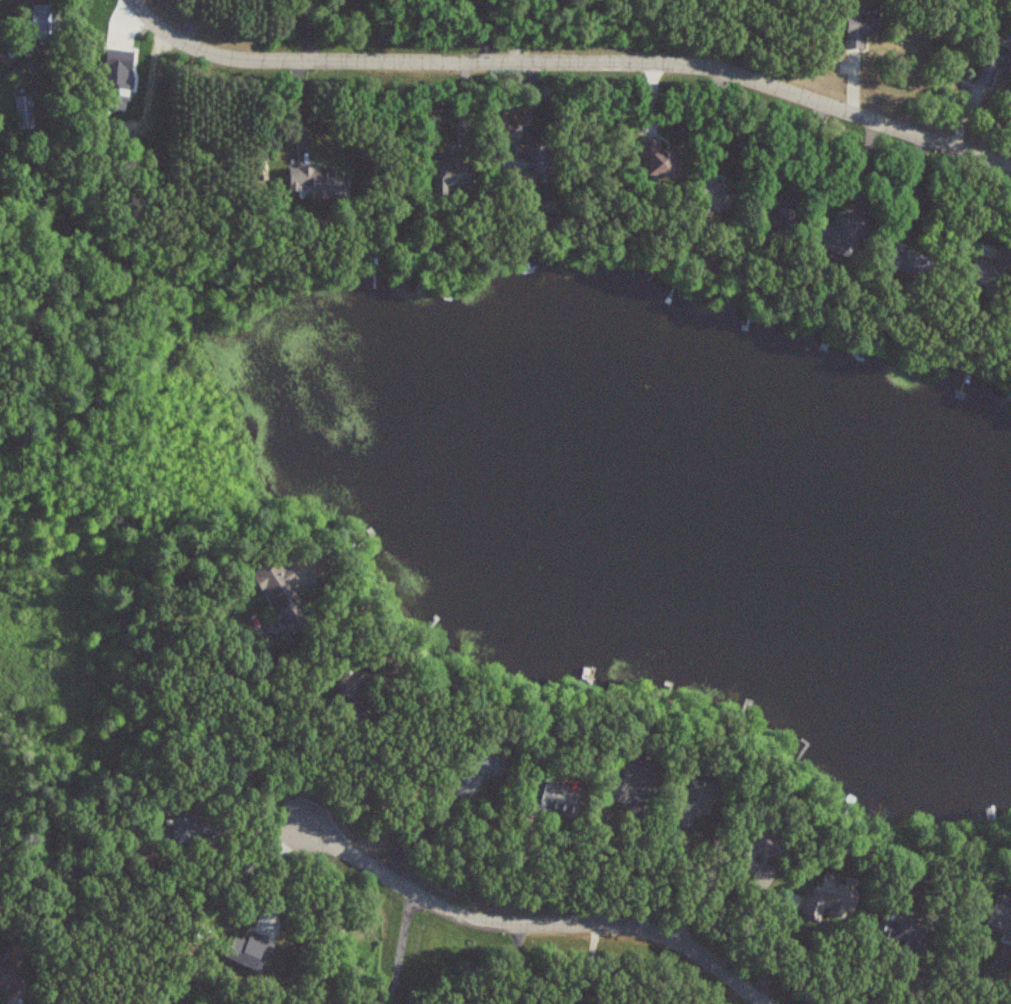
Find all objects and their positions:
building: (41, 24)
building: (859, 26)
road: (571, 61)
building: (993, 62)
building: (23, 110)
building: (659, 159)
building: (524, 163)
building: (452, 172)
building: (317, 181)
building: (713, 196)
building: (780, 214)
building: (843, 234)
building: (906, 262)
building: (989, 274)
building: (274, 585)
building: (348, 685)
road: (272, 729)
building: (479, 767)
road: (326, 772)
building: (631, 782)
building: (556, 800)
building: (691, 801)
building: (186, 828)
road: (415, 832)
building: (756, 846)
road: (627, 870)
road: (284, 871)
road: (559, 872)
road: (687, 885)
building: (832, 898)
road: (531, 923)
road: (750, 923)
building: (901, 936)
road: (399, 948)
road: (515, 964)
building: (10, 977)
road: (764, 1003)

